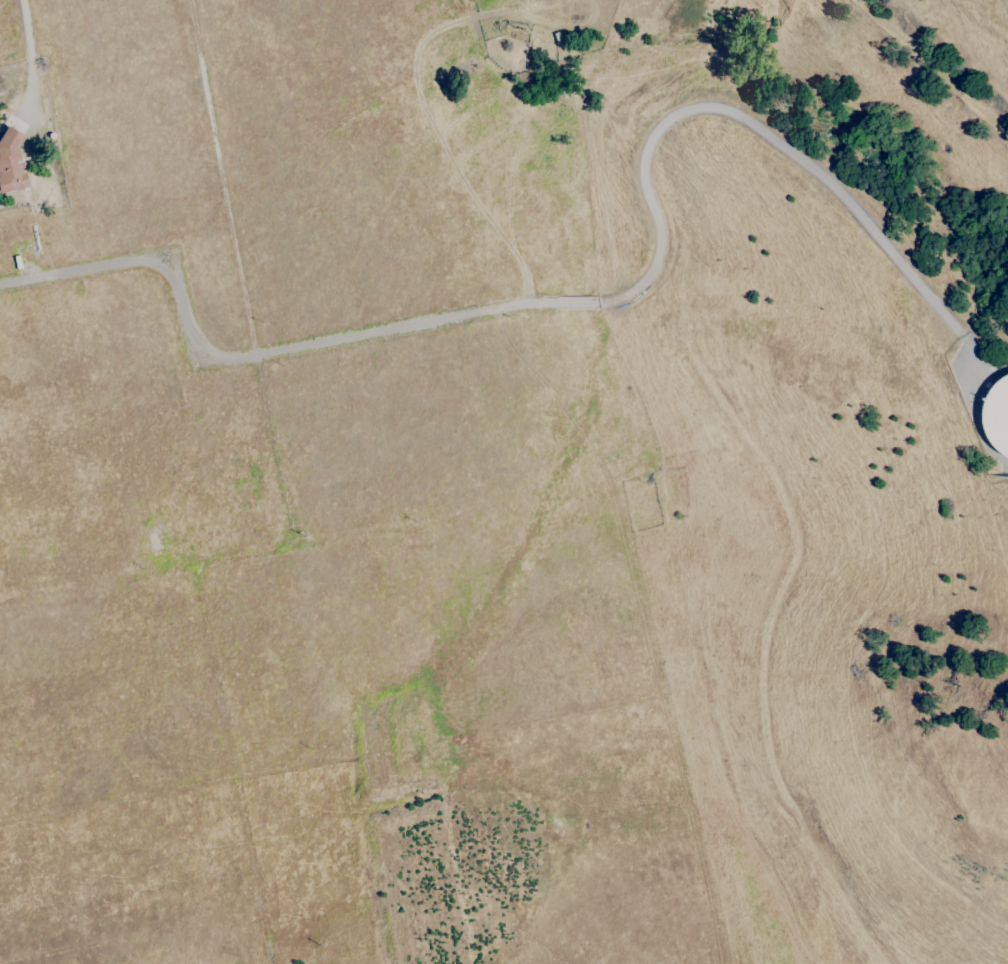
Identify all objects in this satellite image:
road: (34, 47)
building: (11, 161)
road: (887, 184)
road: (577, 307)
building: (998, 416)

